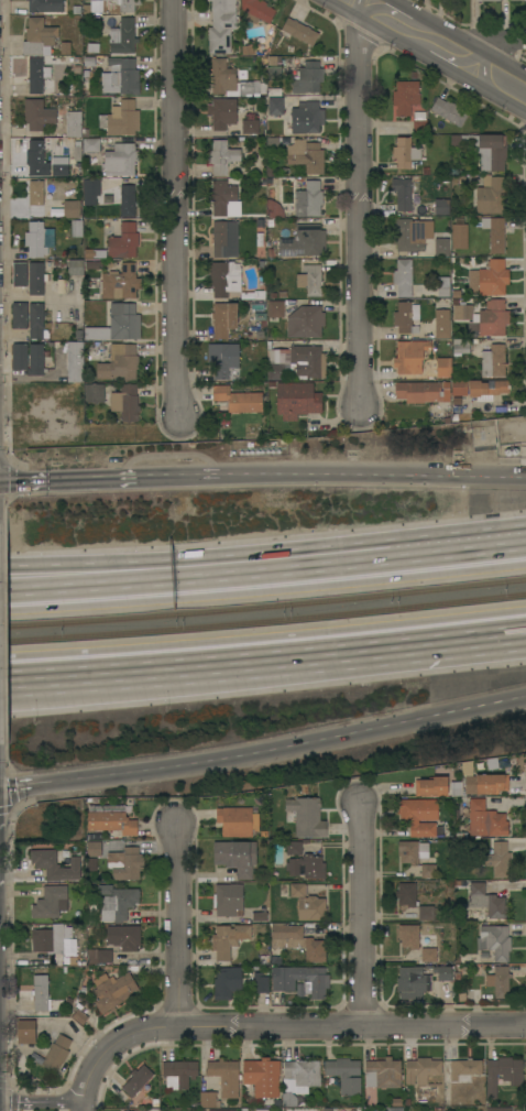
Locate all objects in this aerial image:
building: (487, 0)
building: (514, 0)
building: (45, 6)
building: (121, 6)
building: (75, 9)
building: (255, 11)
building: (221, 25)
building: (297, 32)
building: (37, 36)
building: (122, 37)
road: (474, 39)
building: (64, 47)
road: (438, 47)
building: (92, 48)
building: (88, 59)
building: (271, 66)
building: (76, 68)
building: (36, 75)
building: (121, 76)
building: (220, 76)
building: (307, 78)
building: (252, 87)
building: (405, 97)
building: (275, 106)
building: (448, 111)
building: (222, 112)
building: (37, 115)
building: (306, 118)
building: (120, 119)
building: (419, 122)
building: (72, 123)
building: (249, 126)
building: (242, 143)
building: (90, 144)
building: (273, 144)
building: (484, 149)
building: (404, 153)
building: (307, 156)
building: (36, 159)
building: (223, 159)
building: (120, 160)
building: (59, 166)
building: (91, 190)
building: (35, 193)
building: (404, 194)
building: (491, 195)
building: (220, 197)
building: (308, 199)
building: (127, 200)
building: (441, 207)
road: (174, 208)
building: (72, 209)
building: (273, 209)
road: (357, 209)
building: (75, 227)
building: (410, 233)
building: (494, 233)
building: (224, 238)
building: (39, 239)
building: (123, 241)
building: (304, 241)
building: (441, 247)
building: (95, 265)
building: (74, 266)
building: (19, 274)
building: (223, 277)
building: (403, 277)
building: (493, 277)
building: (35, 279)
building: (310, 280)
building: (117, 282)
building: (275, 308)
building: (462, 312)
building: (19, 315)
building: (406, 317)
building: (493, 318)
building: (223, 319)
building: (35, 322)
building: (305, 322)
building: (117, 324)
building: (441, 324)
building: (460, 347)
building: (409, 357)
building: (223, 360)
building: (74, 361)
building: (493, 361)
building: (19, 362)
building: (119, 362)
building: (297, 362)
building: (443, 368)
building: (459, 386)
building: (486, 389)
building: (421, 391)
building: (94, 392)
building: (238, 399)
building: (297, 400)
building: (124, 402)
road: (373, 472)
road: (179, 477)
road: (69, 480)
road: (462, 545)
road: (199, 554)
road: (199, 574)
railway: (263, 604)
railway: (263, 620)
road: (263, 656)
road: (283, 748)
building: (486, 783)
road: (19, 784)
building: (431, 786)
building: (418, 816)
building: (306, 817)
building: (110, 819)
building: (485, 820)
building: (237, 821)
building: (294, 848)
building: (94, 849)
building: (412, 851)
building: (234, 853)
building: (497, 859)
building: (125, 863)
building: (55, 865)
building: (306, 867)
building: (428, 871)
building: (243, 873)
building: (297, 890)
building: (406, 894)
building: (228, 900)
building: (50, 902)
building: (116, 902)
building: (486, 902)
building: (310, 908)
building: (426, 913)
road: (361, 914)
building: (259, 916)
road: (177, 926)
building: (408, 936)
building: (123, 937)
building: (228, 939)
building: (297, 941)
building: (494, 941)
building: (55, 944)
building: (429, 955)
building: (99, 956)
building: (442, 973)
building: (498, 981)
building: (227, 982)
building: (260, 982)
building: (316, 982)
building: (413, 982)
building: (112, 991)
building: (40, 992)
building: (78, 1016)
road: (280, 1026)
building: (26, 1032)
building: (56, 1053)
building: (22, 1063)
building: (420, 1069)
building: (464, 1069)
building: (525, 1071)
building: (178, 1074)
building: (382, 1074)
building: (502, 1074)
building: (302, 1075)
building: (344, 1075)
building: (224, 1077)
building: (262, 1077)
building: (136, 1080)
building: (207, 1099)
building: (288, 1099)
road: (41, 1100)
building: (396, 1102)
road: (78, 1109)
road: (80, 1109)
building: (394, 1109)
building: (497, 1109)
building: (128, 1110)
building: (261, 1110)

